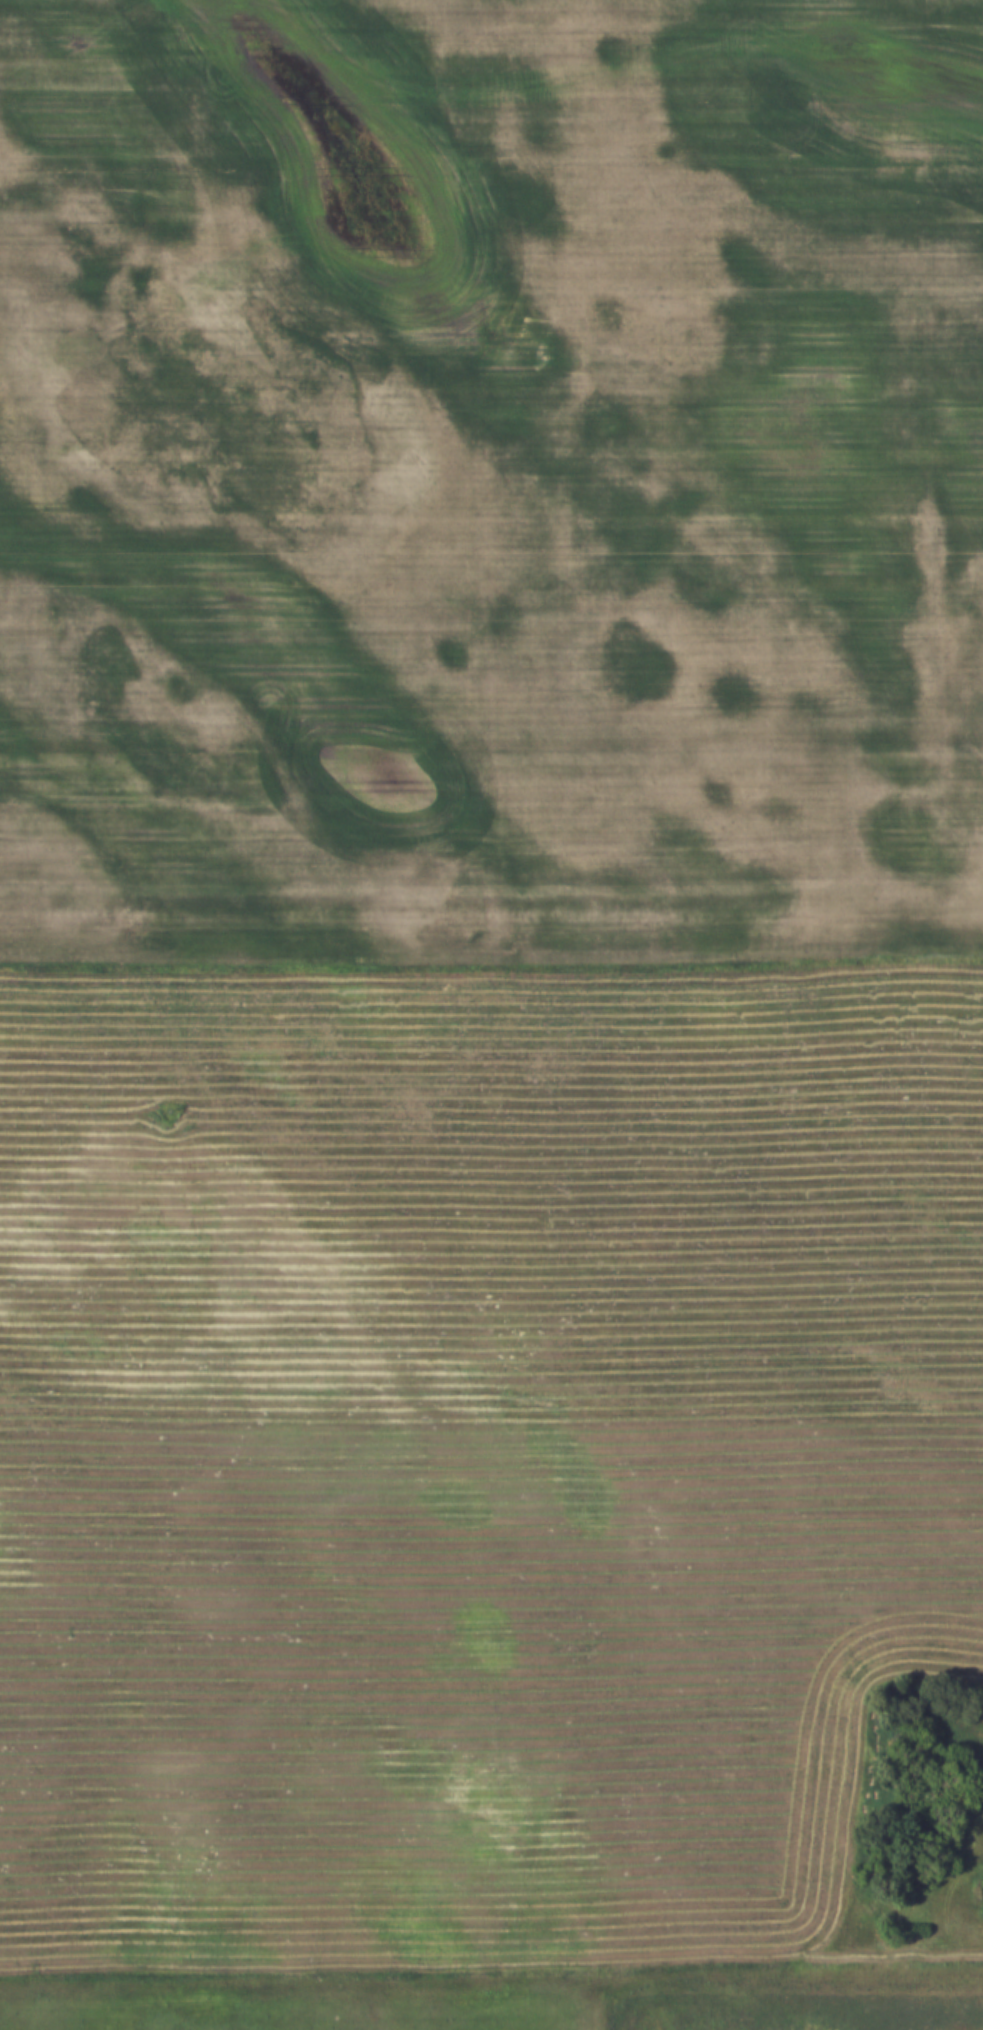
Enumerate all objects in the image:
road: (491, 1972)
road: (619, 2000)

